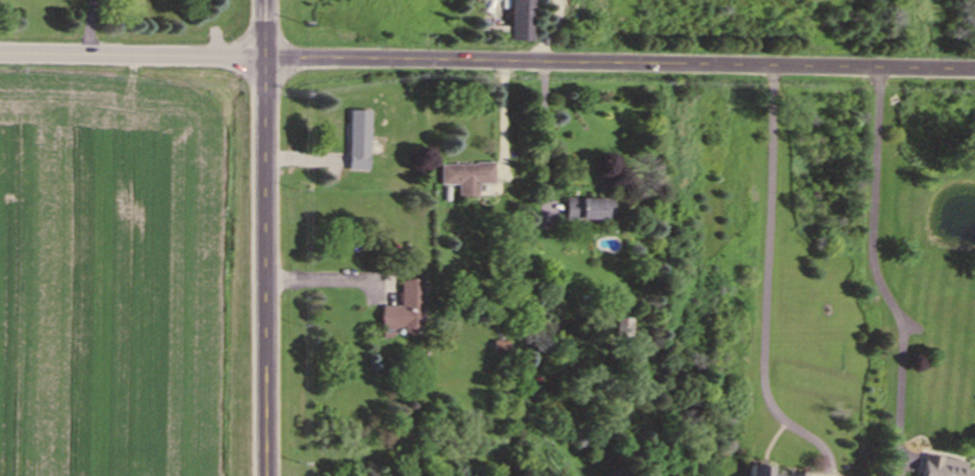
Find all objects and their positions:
building: (514, 22)
road: (91, 27)
road: (549, 32)
road: (487, 62)
road: (503, 116)
road: (547, 131)
building: (353, 143)
building: (463, 179)
building: (582, 212)
road: (264, 237)
road: (875, 274)
crop: (118, 279)
road: (319, 280)
road: (766, 285)
building: (402, 313)
building: (619, 331)
building: (941, 469)
building: (768, 475)

